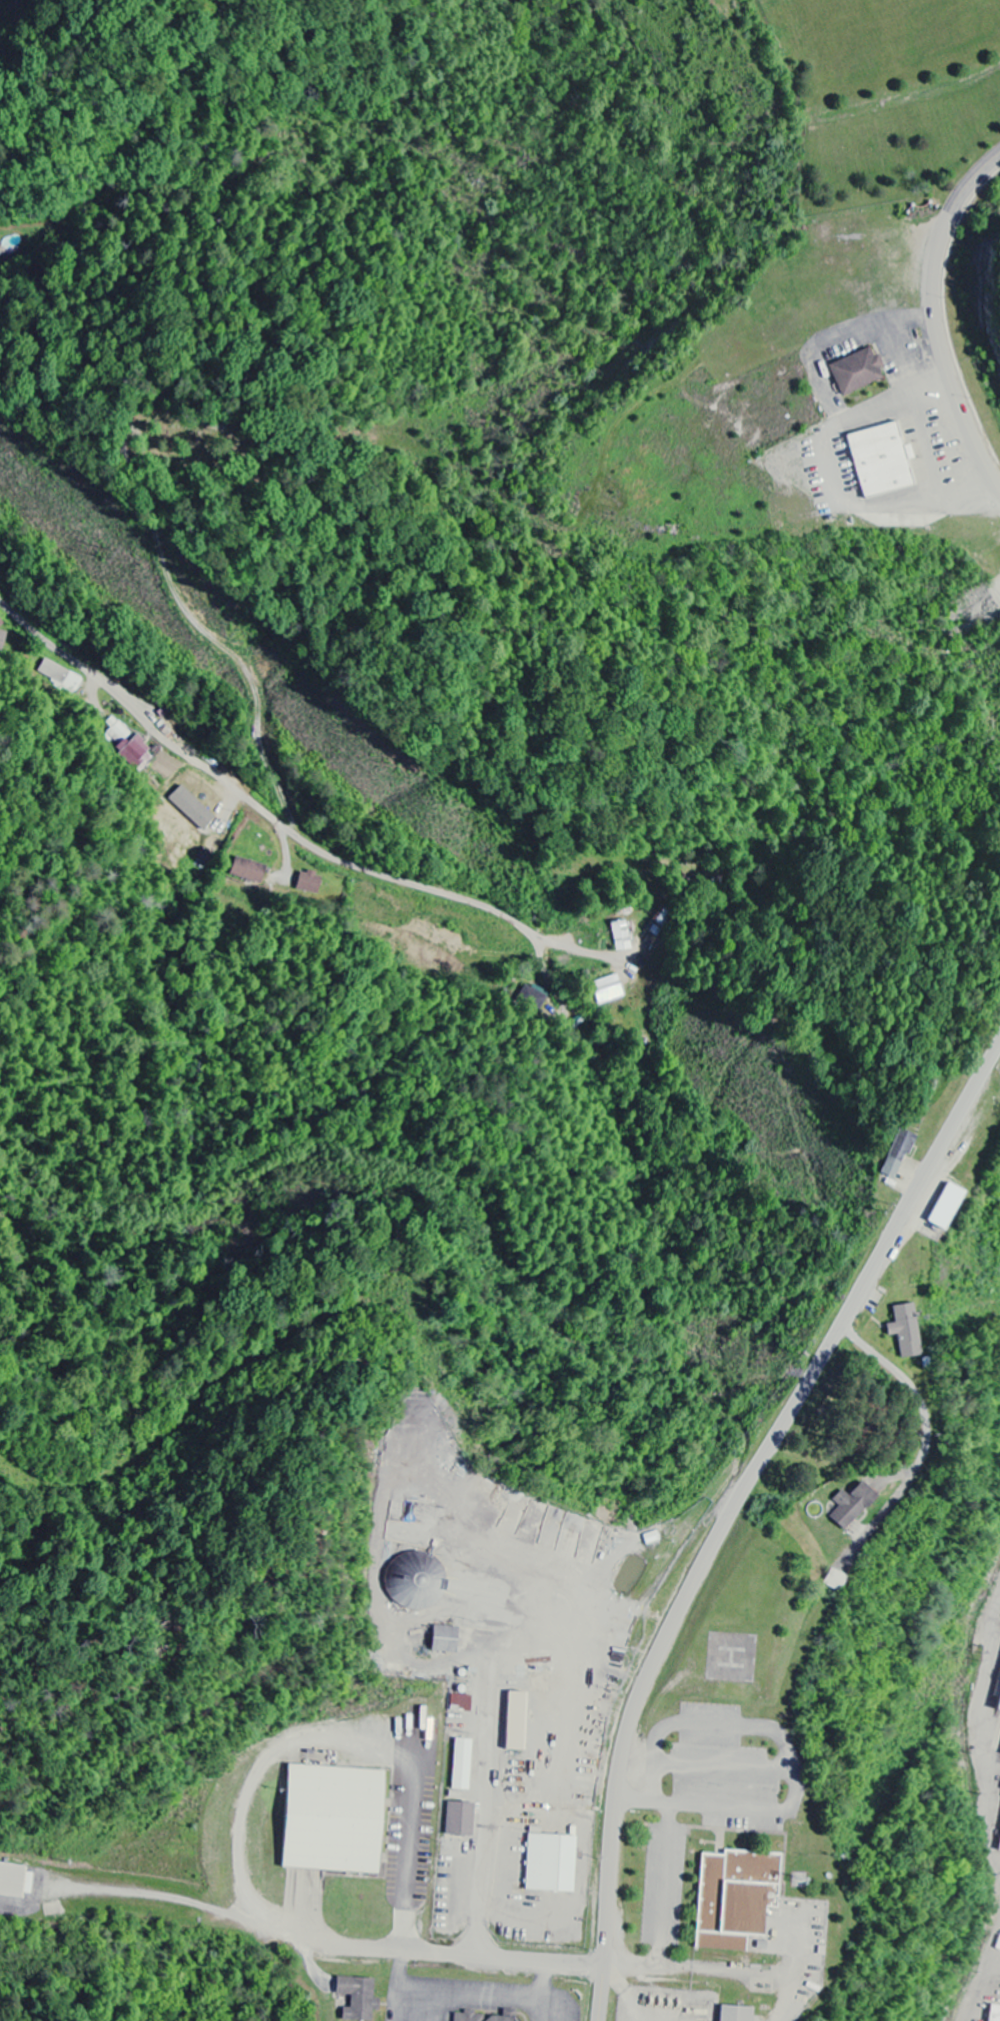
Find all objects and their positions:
building: (0, 252)
road: (932, 317)
building: (857, 371)
building: (881, 460)
power tower: (106, 553)
building: (0, 621)
building: (2, 640)
building: (60, 676)
building: (130, 746)
road: (247, 795)
building: (192, 808)
building: (248, 871)
building: (309, 883)
building: (622, 936)
building: (609, 990)
building: (535, 994)
building: (898, 1154)
power tower: (882, 1206)
building: (947, 1207)
building: (906, 1331)
road: (742, 1503)
building: (852, 1506)
building: (420, 1583)
building: (444, 1639)
building: (461, 1703)
building: (999, 1710)
building: (516, 1721)
building: (462, 1764)
building: (333, 1819)
building: (460, 1819)
building: (998, 1842)
building: (550, 1863)
building: (15, 1881)
building: (735, 1898)
road: (438, 1954)
building: (358, 1998)
building: (735, 2014)
building: (486, 2016)
building: (999, 2019)

